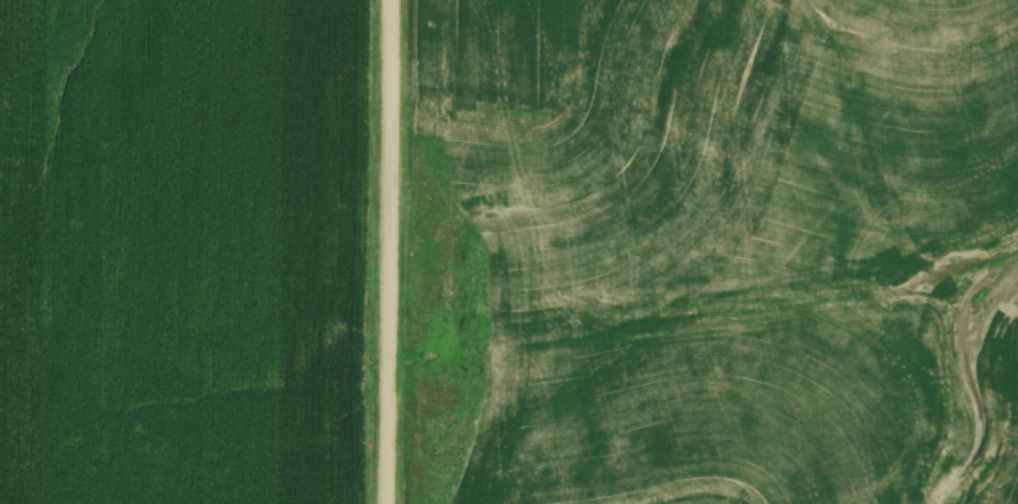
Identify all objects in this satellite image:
road: (387, 252)

